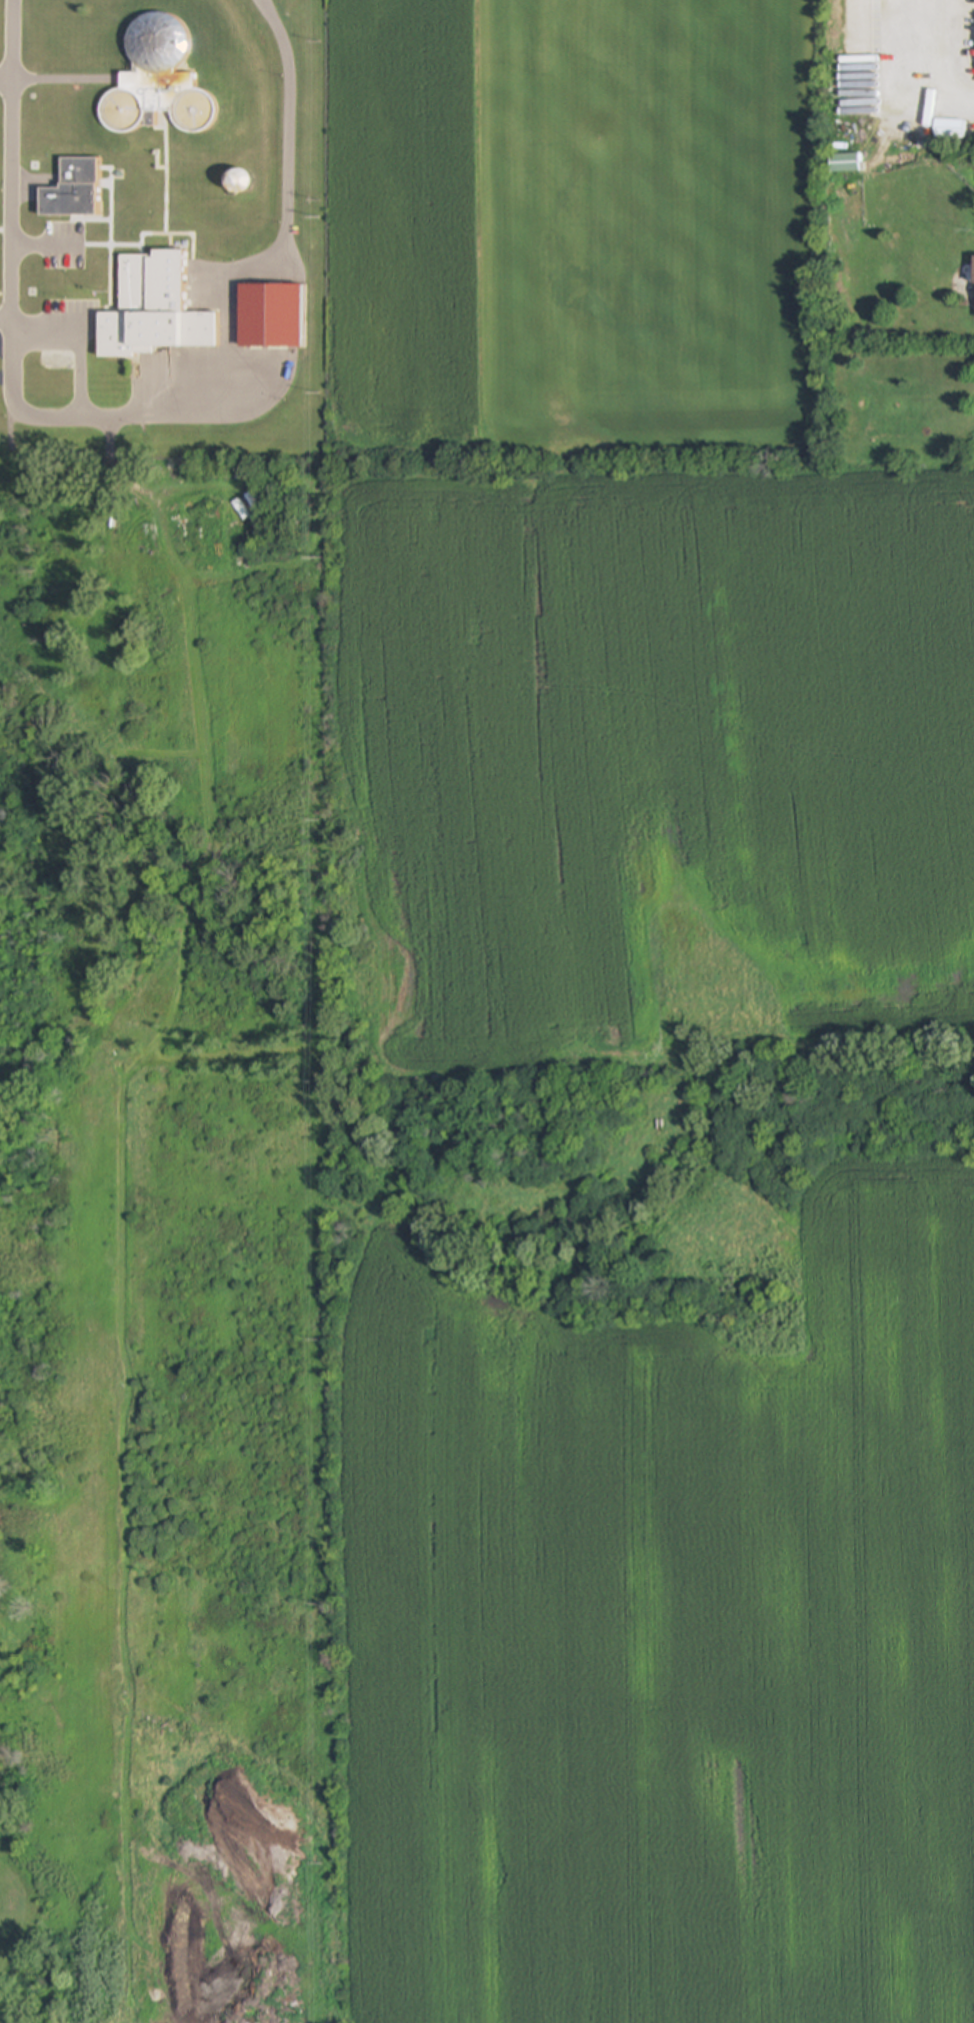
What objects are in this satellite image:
road: (929, 62)
building: (154, 81)
road: (6, 82)
building: (948, 129)
building: (844, 163)
road: (11, 188)
wastewater plant: (159, 227)
building: (973, 291)
building: (154, 309)

